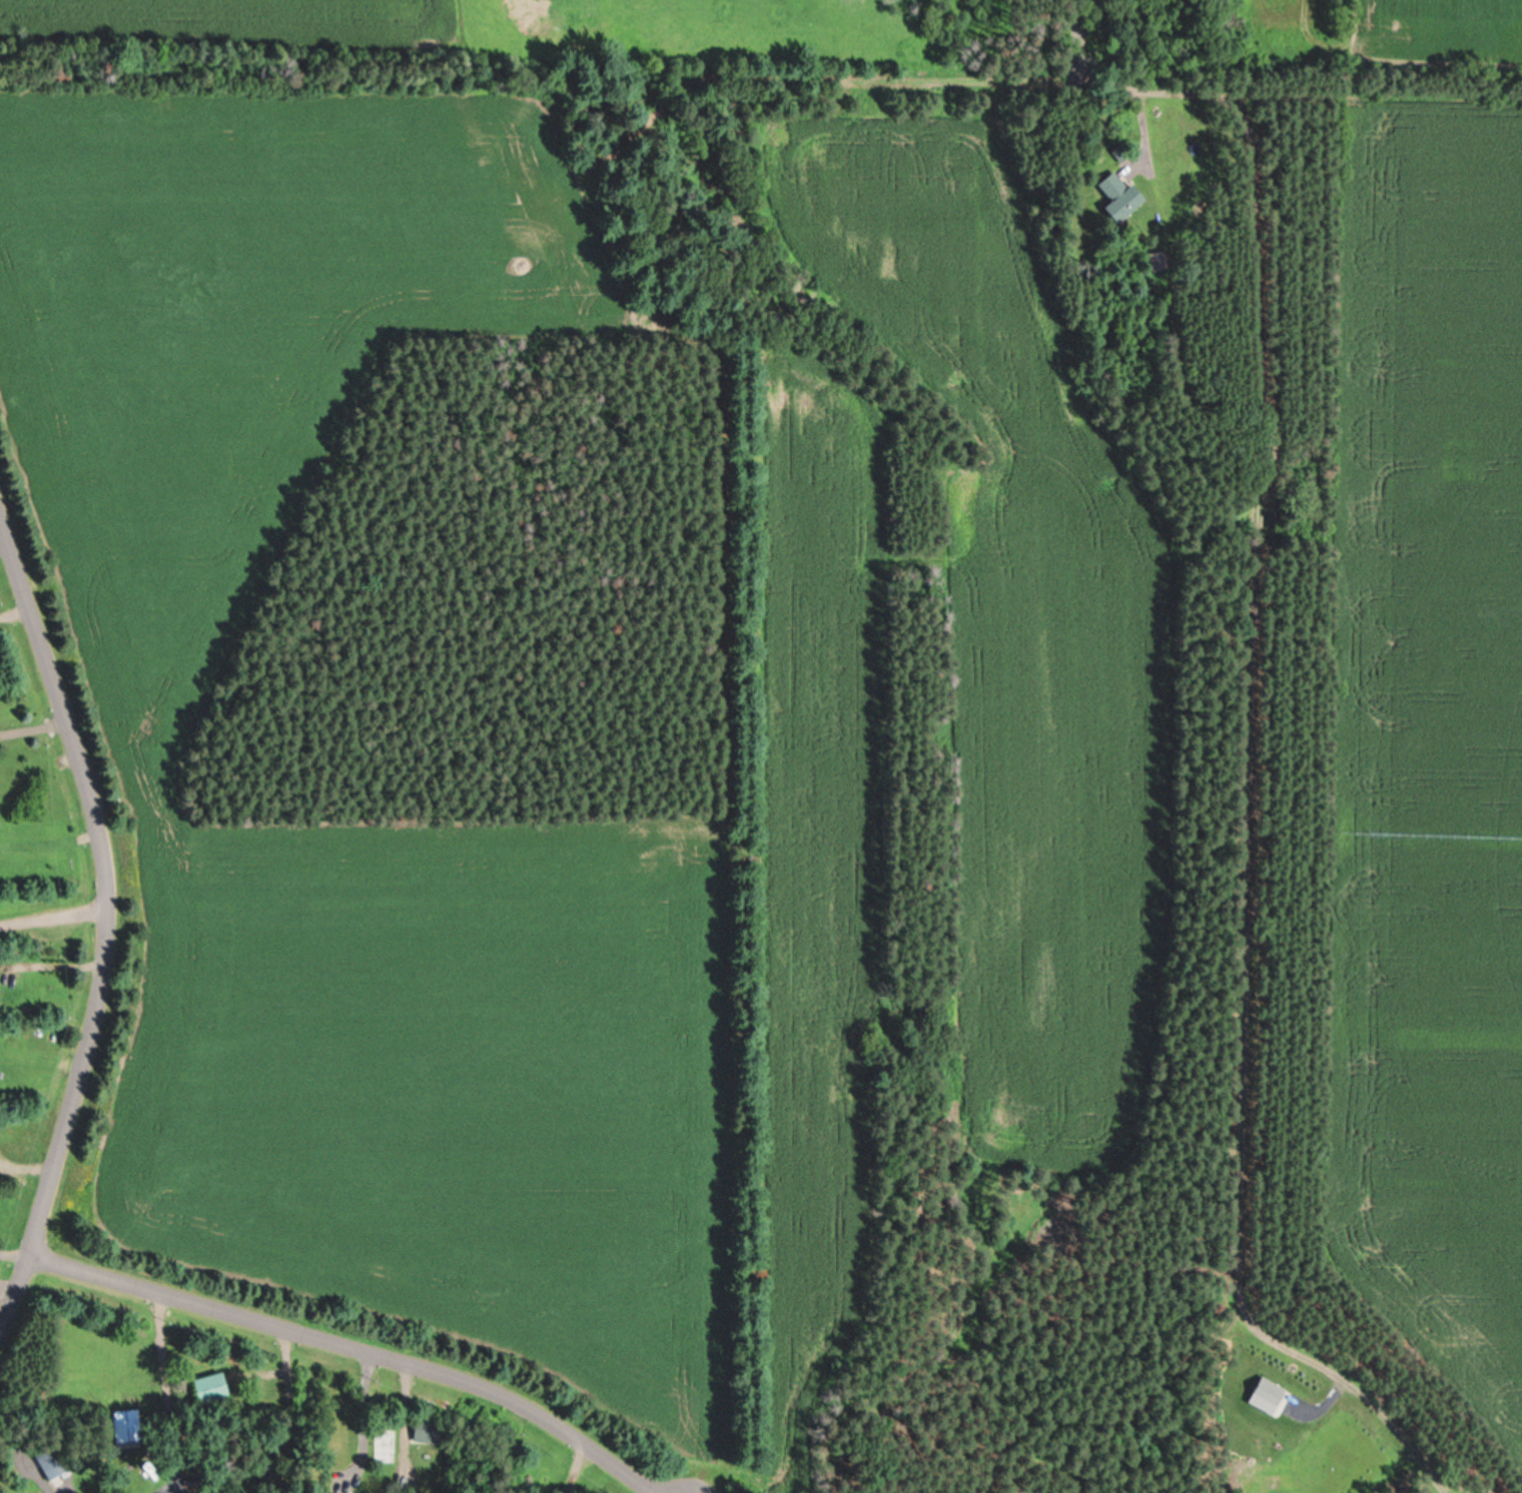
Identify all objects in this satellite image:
road: (1069, 34)
road: (985, 84)
road: (462, 121)
building: (1113, 195)
road: (1313, 763)
road: (52, 912)
road: (104, 927)
road: (359, 1350)
building: (207, 1387)
building: (1261, 1393)
building: (120, 1419)
building: (422, 1428)
building: (52, 1459)
building: (327, 1492)

